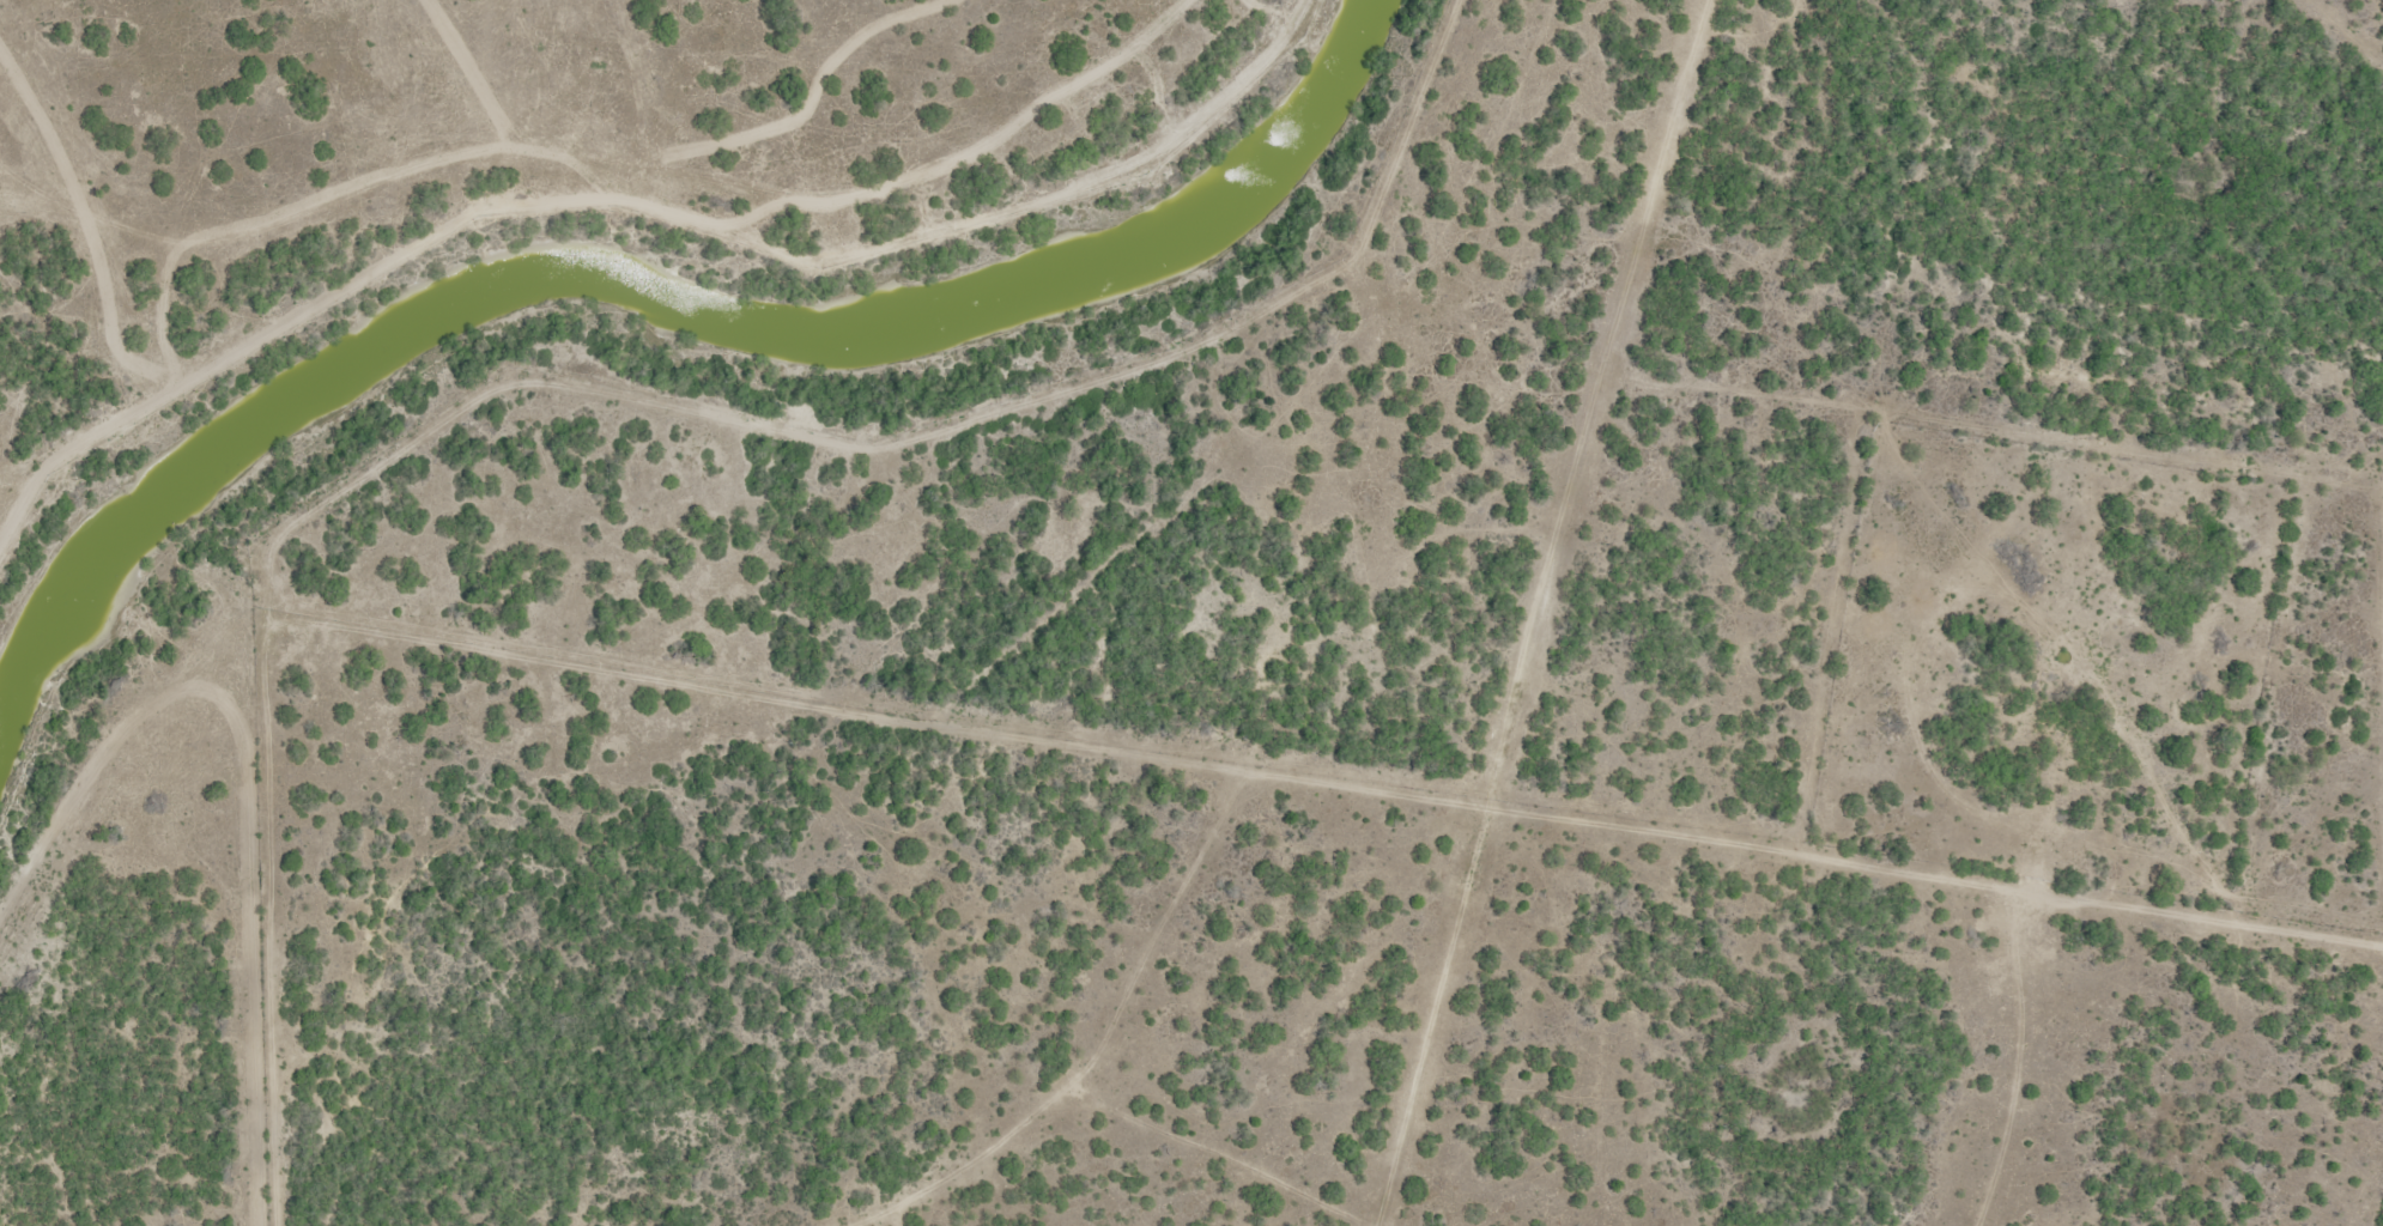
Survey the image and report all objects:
road: (560, 177)
river: (654, 295)
road: (1741, 791)

